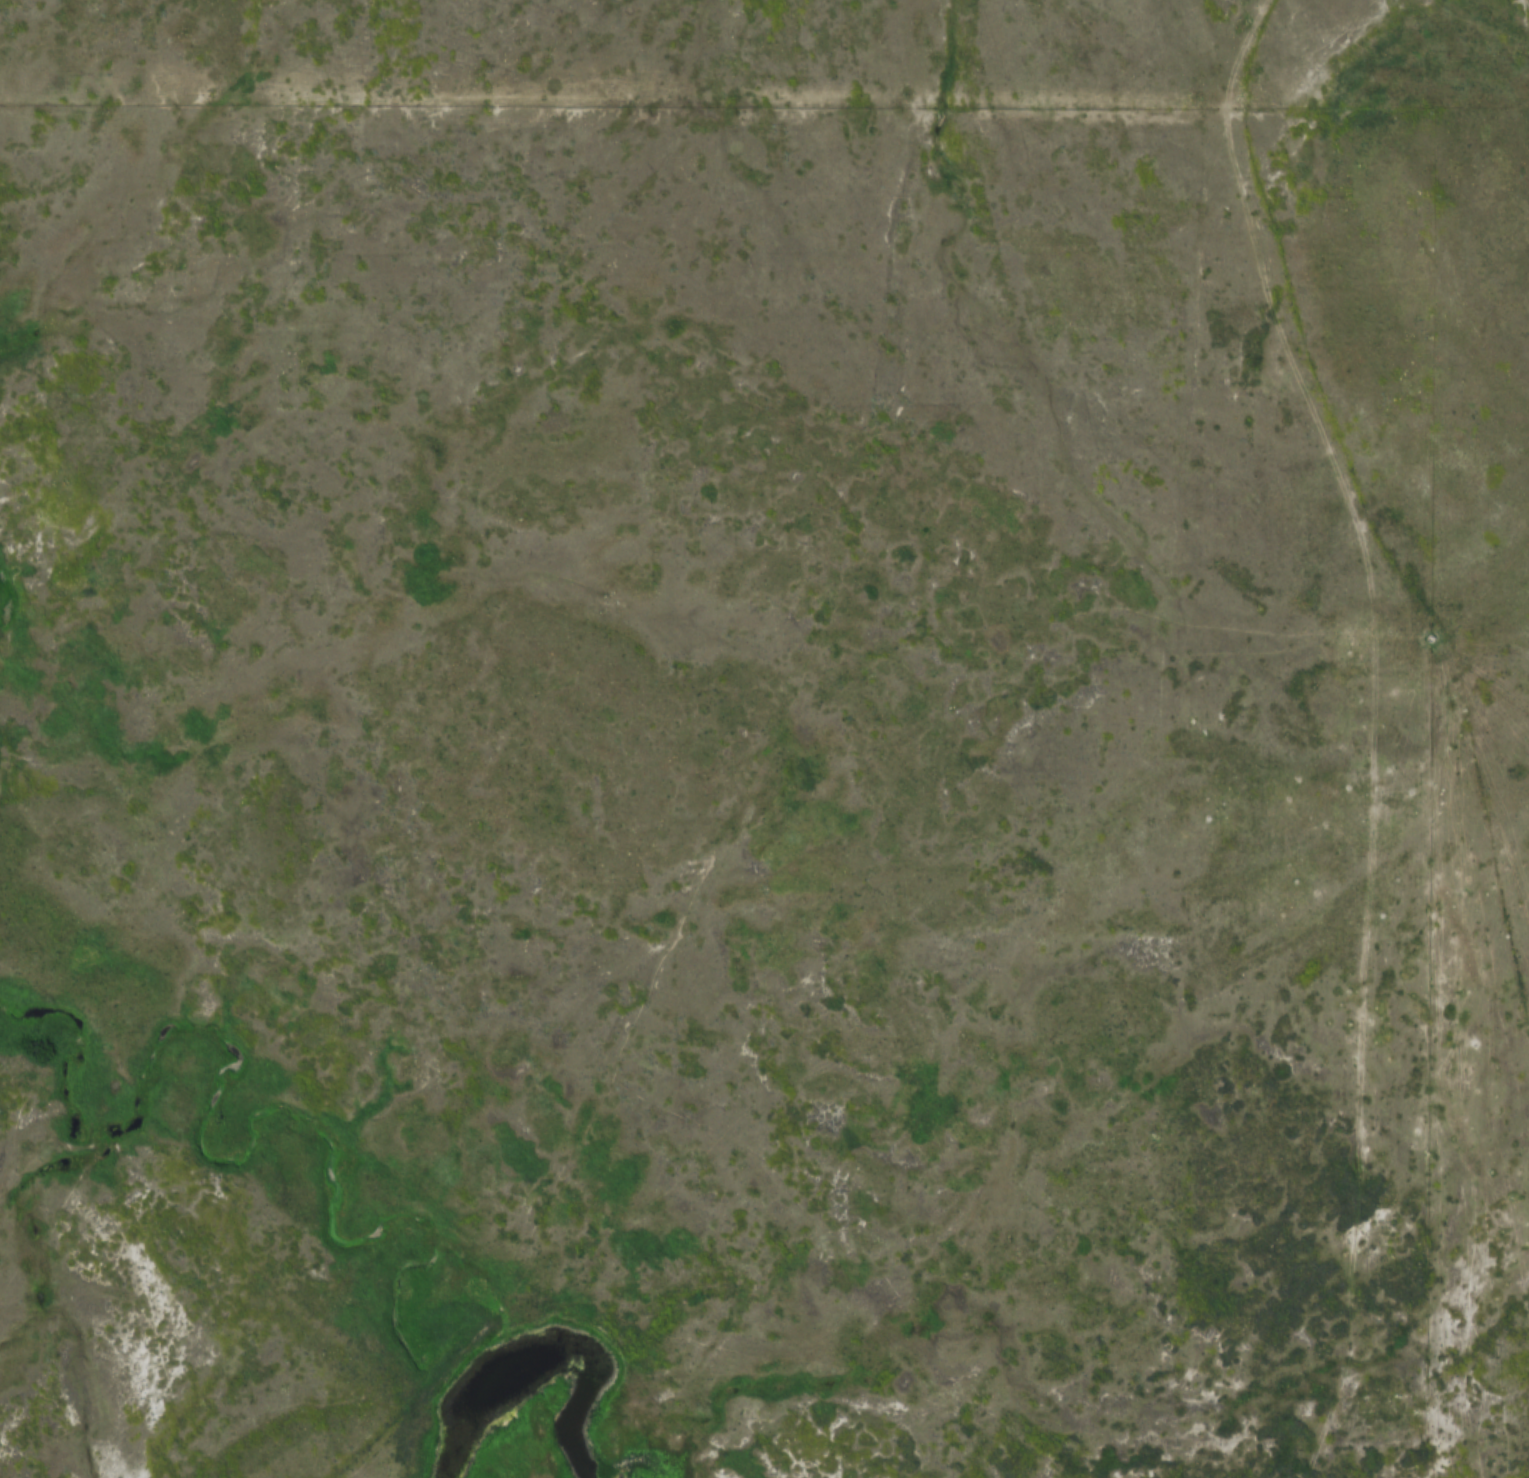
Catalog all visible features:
dam: (451, 1361)

